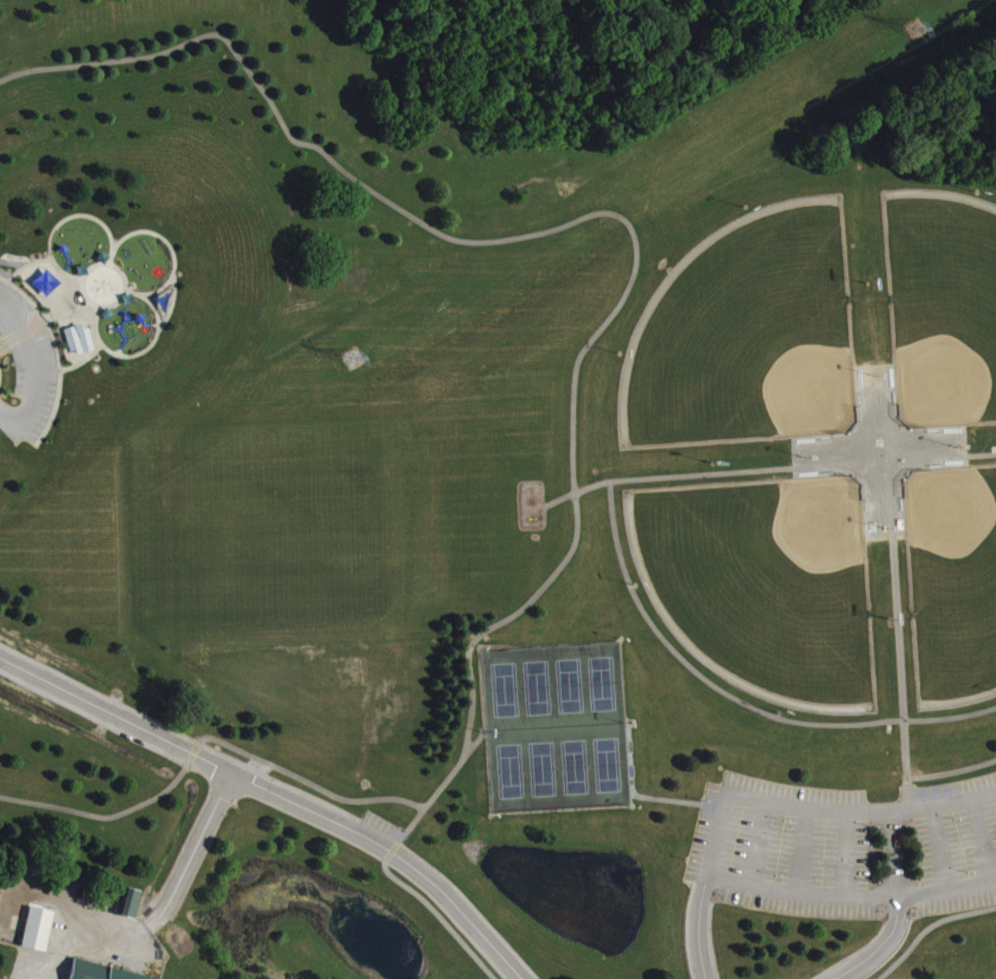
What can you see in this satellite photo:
power tower: (912, 32)
road: (569, 225)
road: (13, 260)
road: (0, 277)
park: (942, 308)
building: (77, 338)
park: (748, 338)
road: (56, 353)
power tower: (351, 358)
parking lot: (27, 369)
road: (766, 471)
park: (498, 489)
park: (766, 582)
park: (952, 582)
road: (898, 636)
park: (601, 685)
park: (569, 686)
park: (537, 689)
park: (505, 691)
road: (737, 700)
road: (191, 752)
park: (607, 766)
park: (574, 768)
park: (542, 770)
park: (509, 772)
road: (952, 772)
road: (306, 781)
road: (275, 795)
road: (103, 816)
road: (714, 841)
road: (981, 841)
road: (752, 842)
road: (938, 847)
parking lot: (848, 849)
road: (800, 851)
road: (844, 854)
road: (890, 854)
road: (383, 863)
building: (126, 902)
road: (162, 912)
road: (700, 927)
road: (927, 927)
building: (35, 928)
road: (882, 945)
building: (97, 972)

